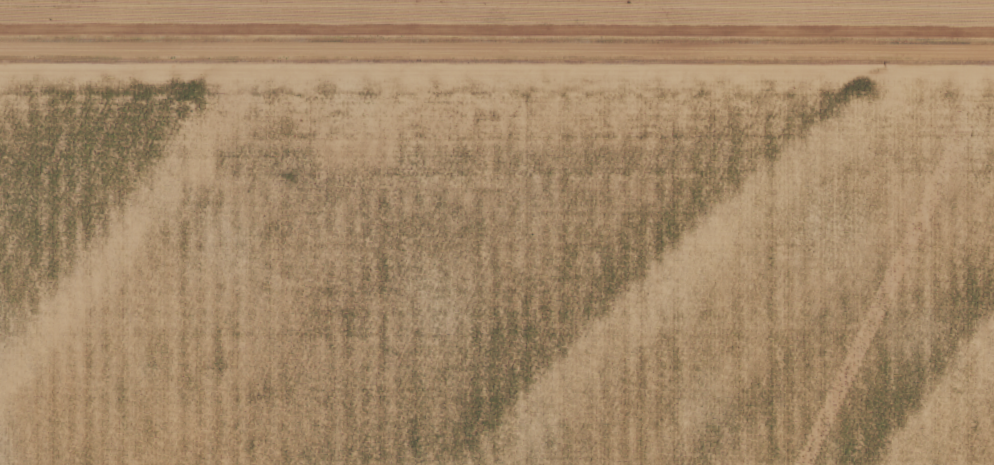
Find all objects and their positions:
road: (497, 47)

